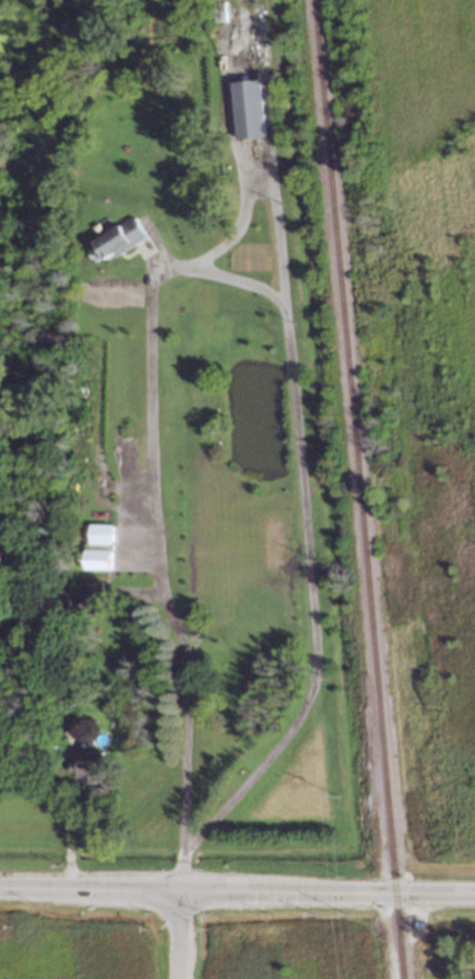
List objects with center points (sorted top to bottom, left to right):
building: (249, 109)
road: (264, 194)
building: (118, 241)
road: (288, 367)
park: (426, 374)
railway: (359, 489)
building: (99, 547)
building: (91, 597)
road: (185, 744)
building: (87, 765)
road: (67, 831)
road: (237, 893)
road: (174, 935)
park: (451, 940)

